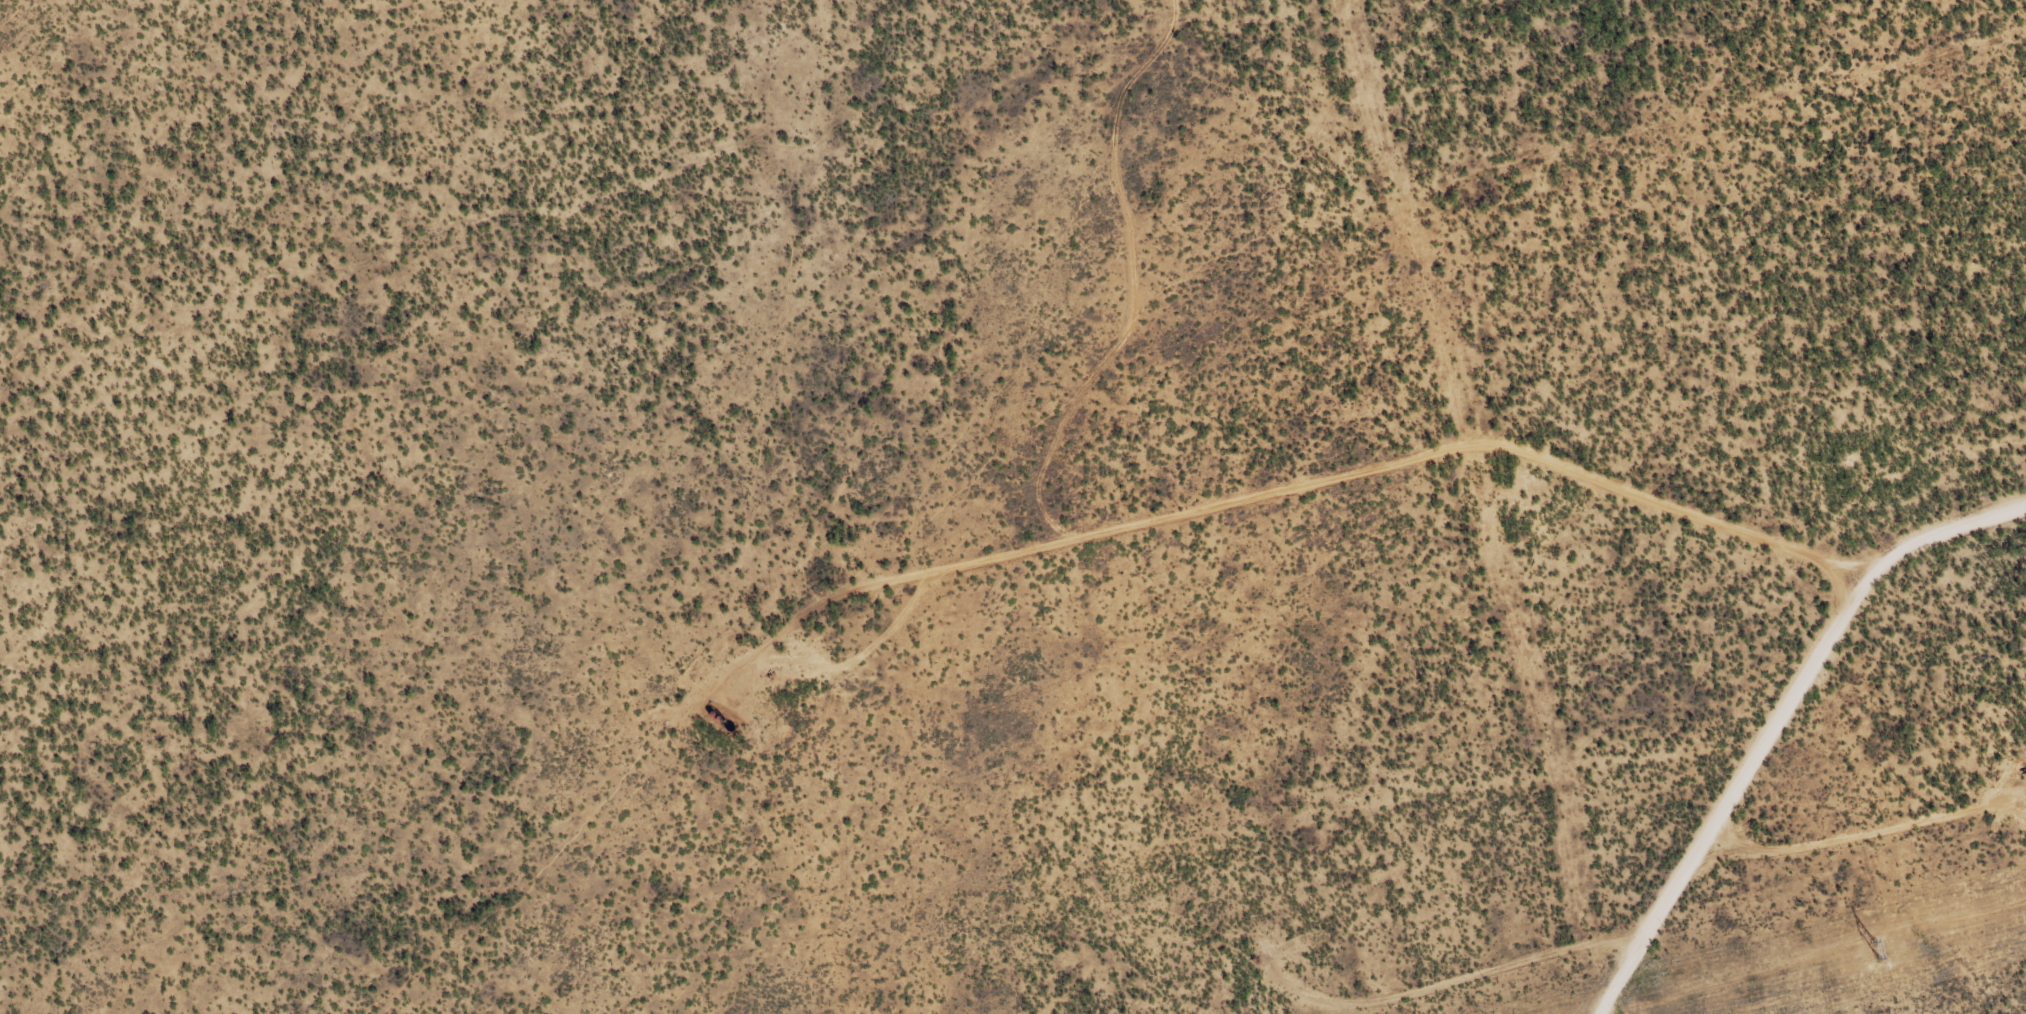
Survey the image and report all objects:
power tower: (1879, 949)

